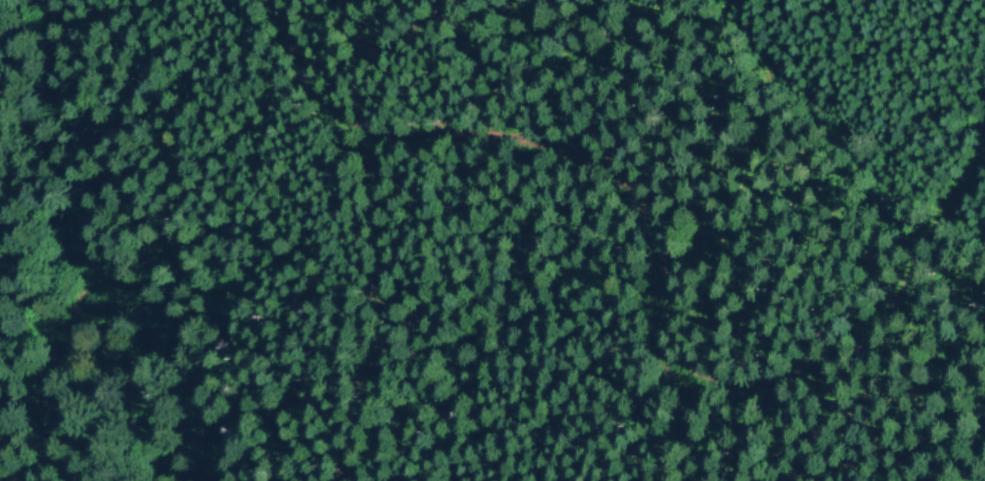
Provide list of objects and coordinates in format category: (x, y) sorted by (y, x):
road: (605, 284)
road: (62, 339)

